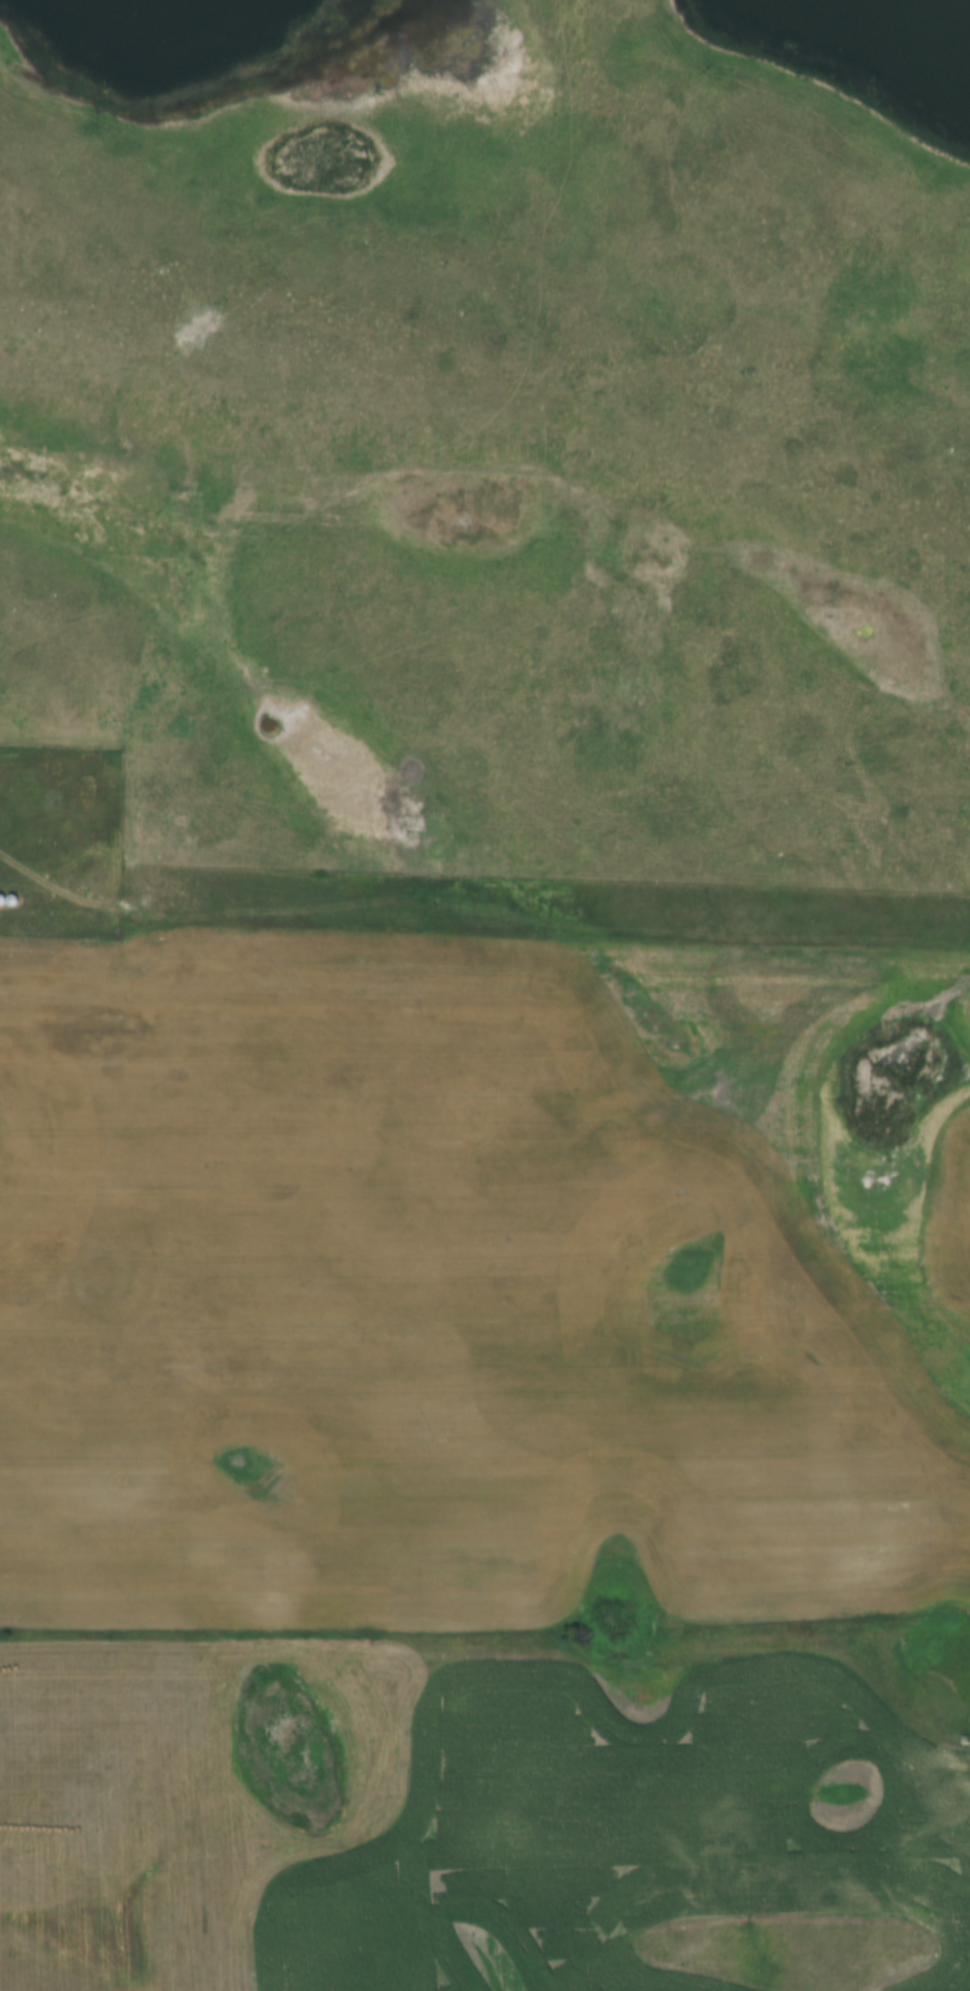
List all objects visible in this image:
building: (25, 787)
road: (464, 984)

